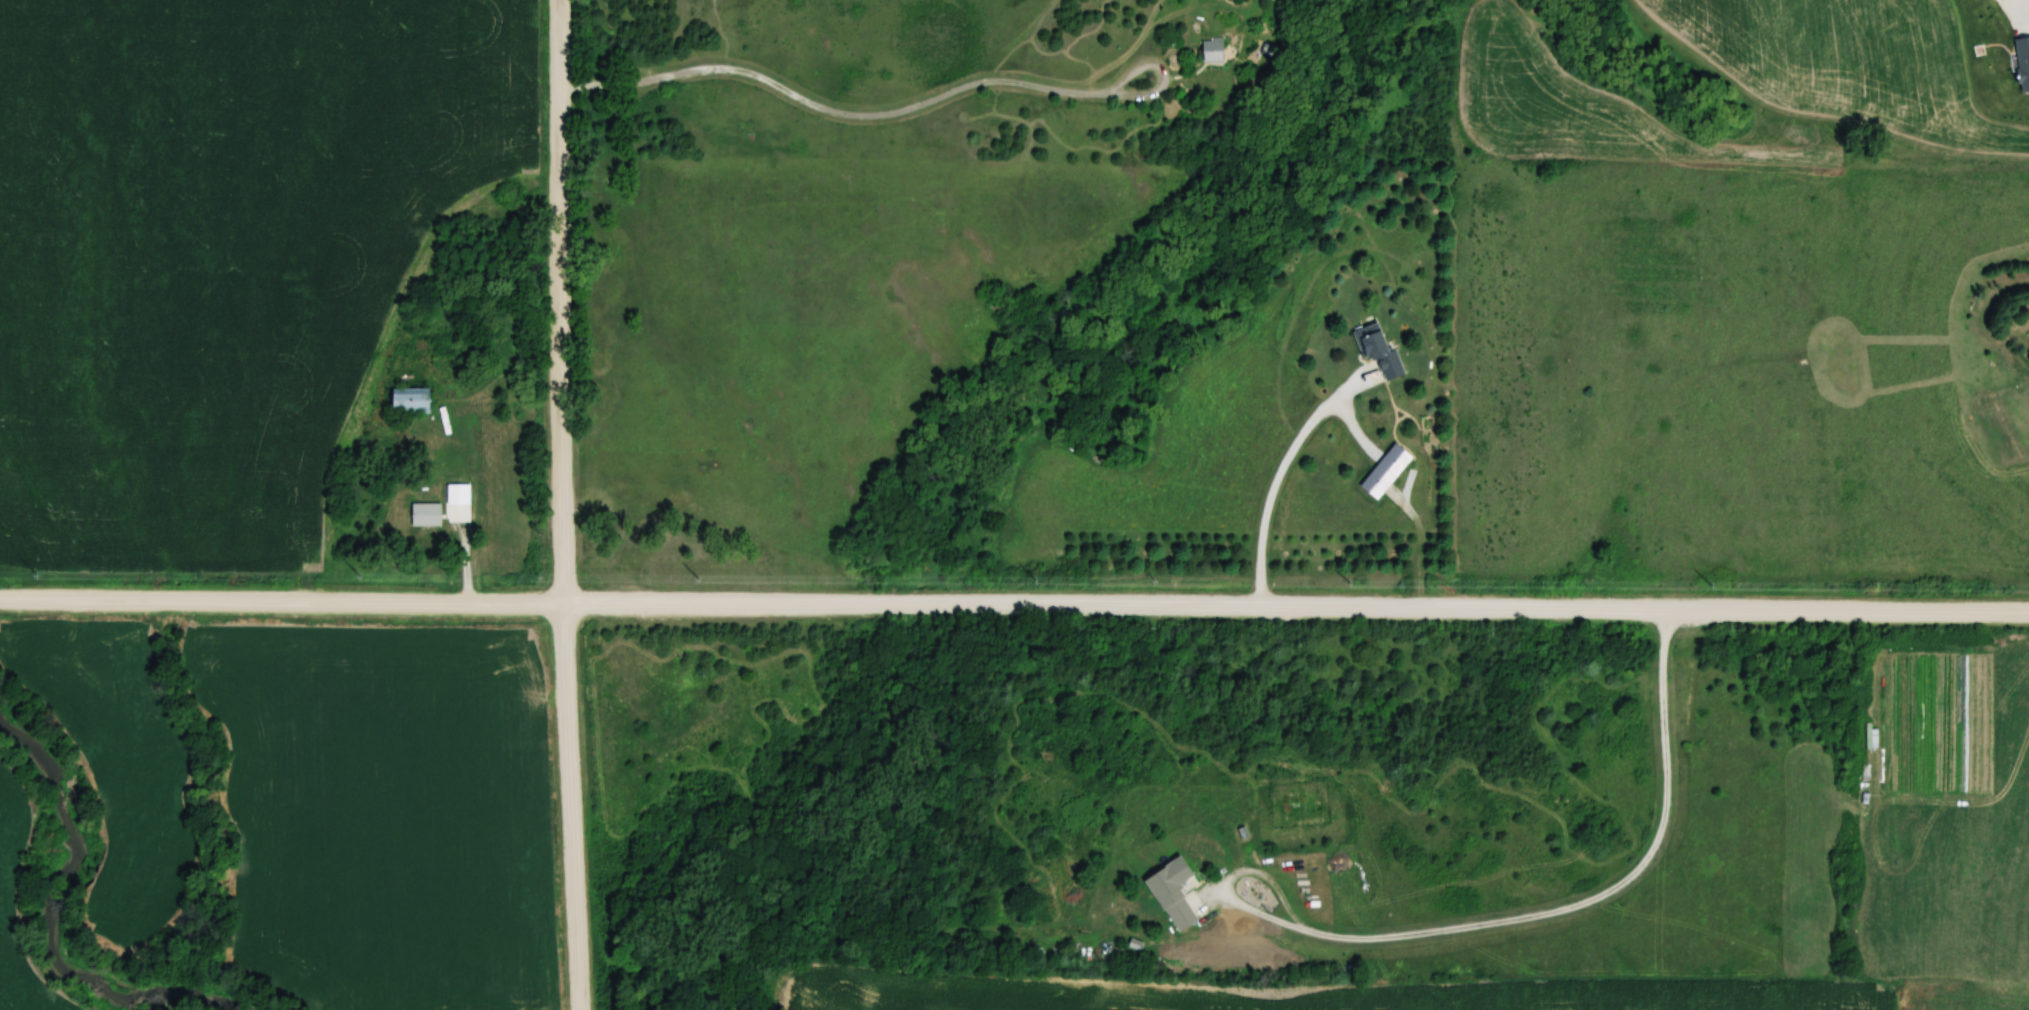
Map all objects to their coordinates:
road: (2023, 15)
building: (1214, 50)
road: (905, 111)
building: (1377, 352)
building: (414, 401)
building: (1383, 473)
road: (1276, 482)
road: (562, 505)
building: (427, 516)
road: (1014, 605)
building: (1174, 893)
river: (46, 920)
road: (1510, 920)

